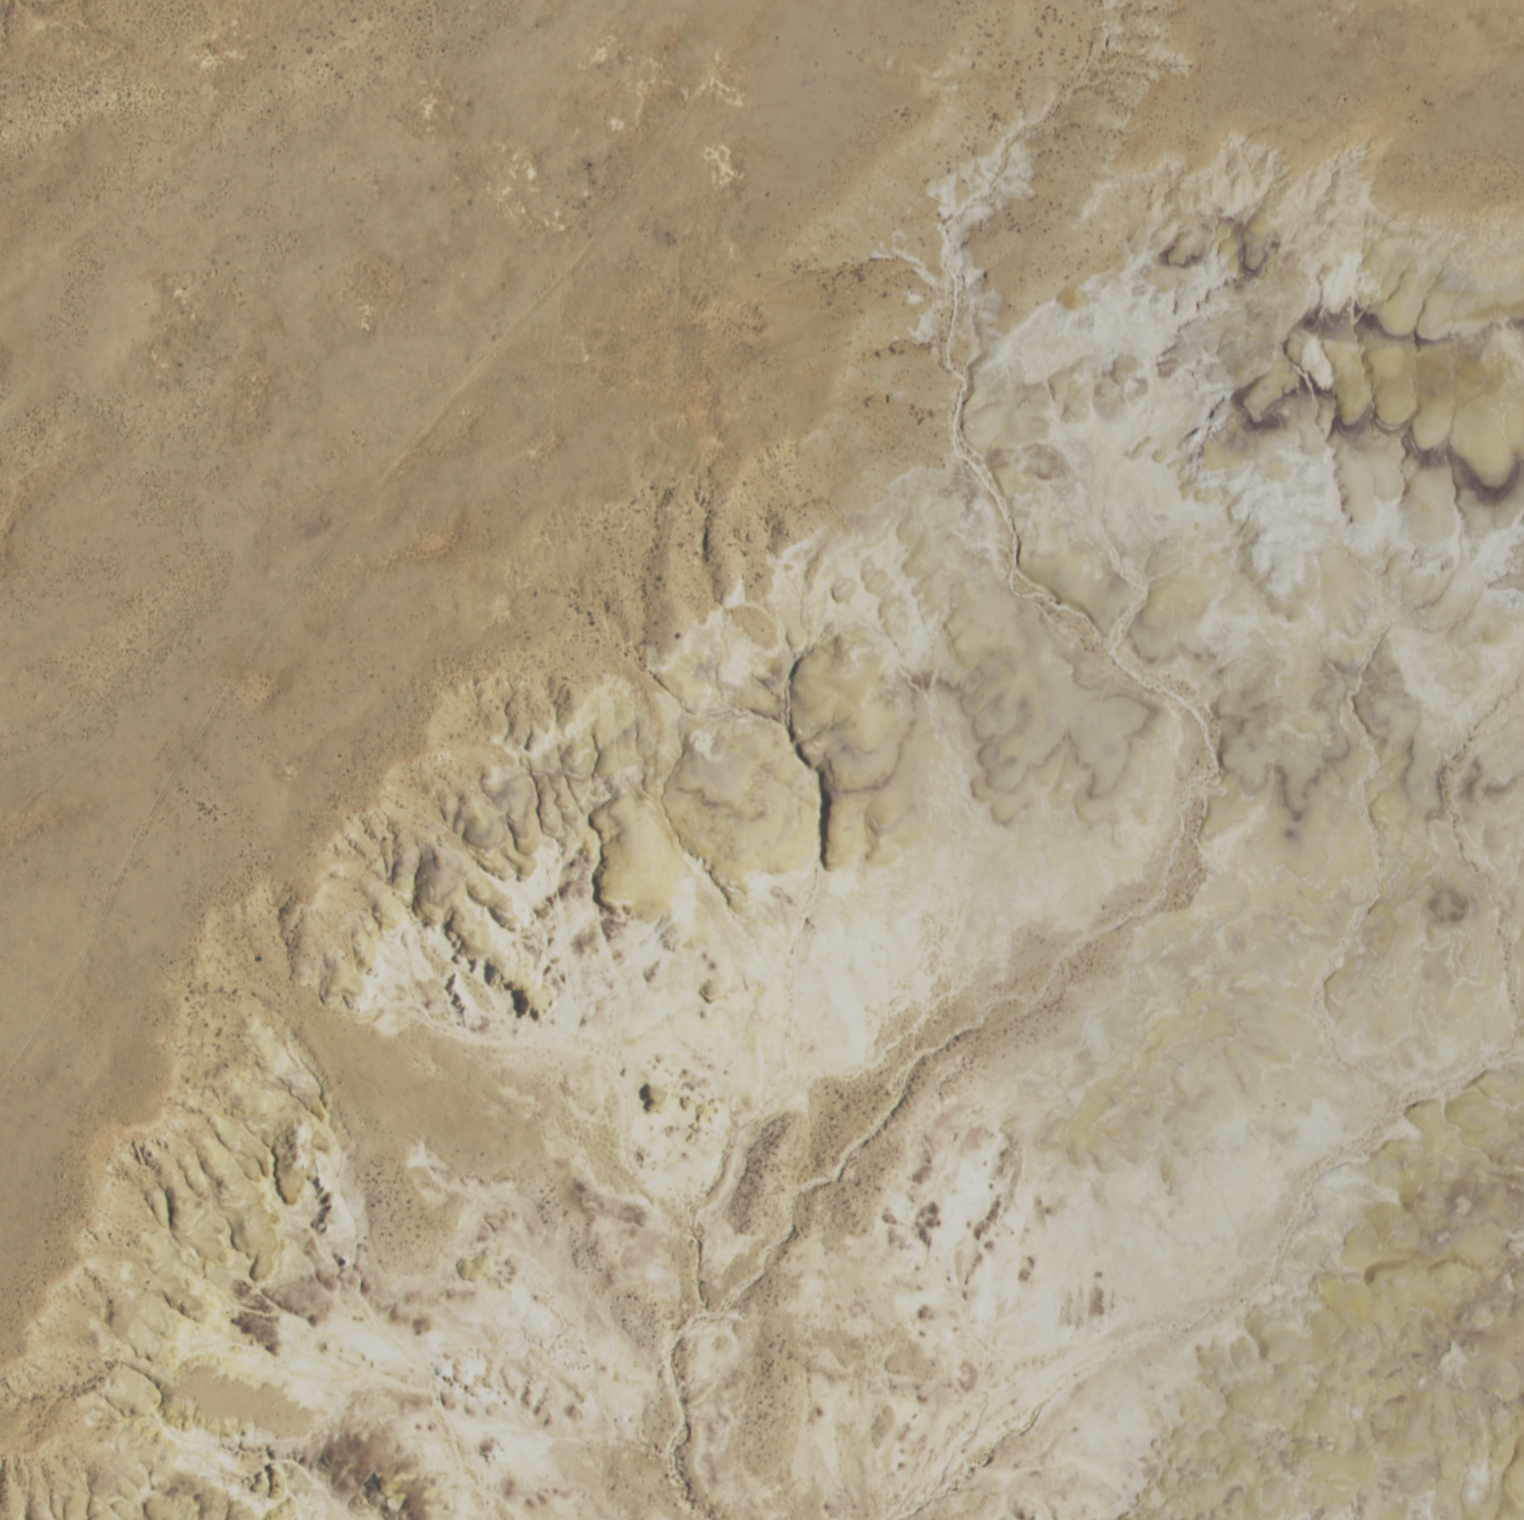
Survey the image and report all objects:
road: (1492, 40)

